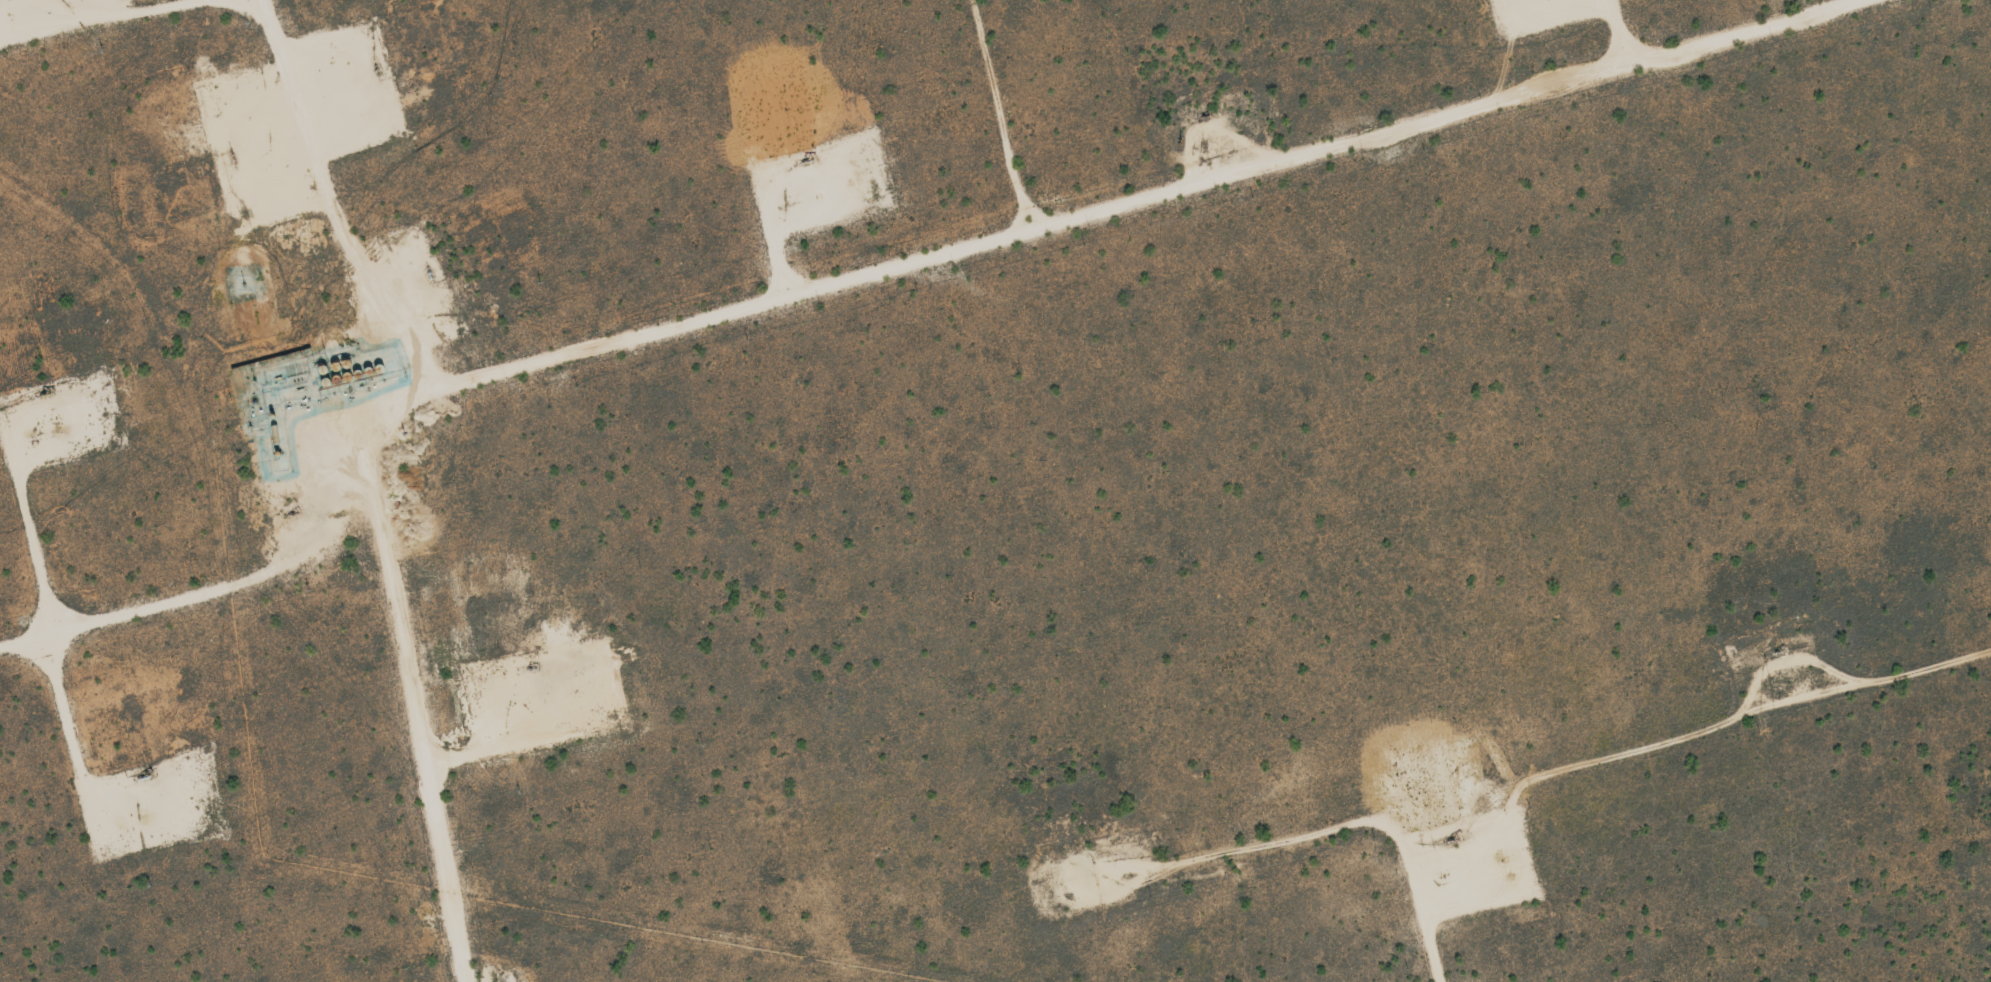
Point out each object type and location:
road: (415, 729)

